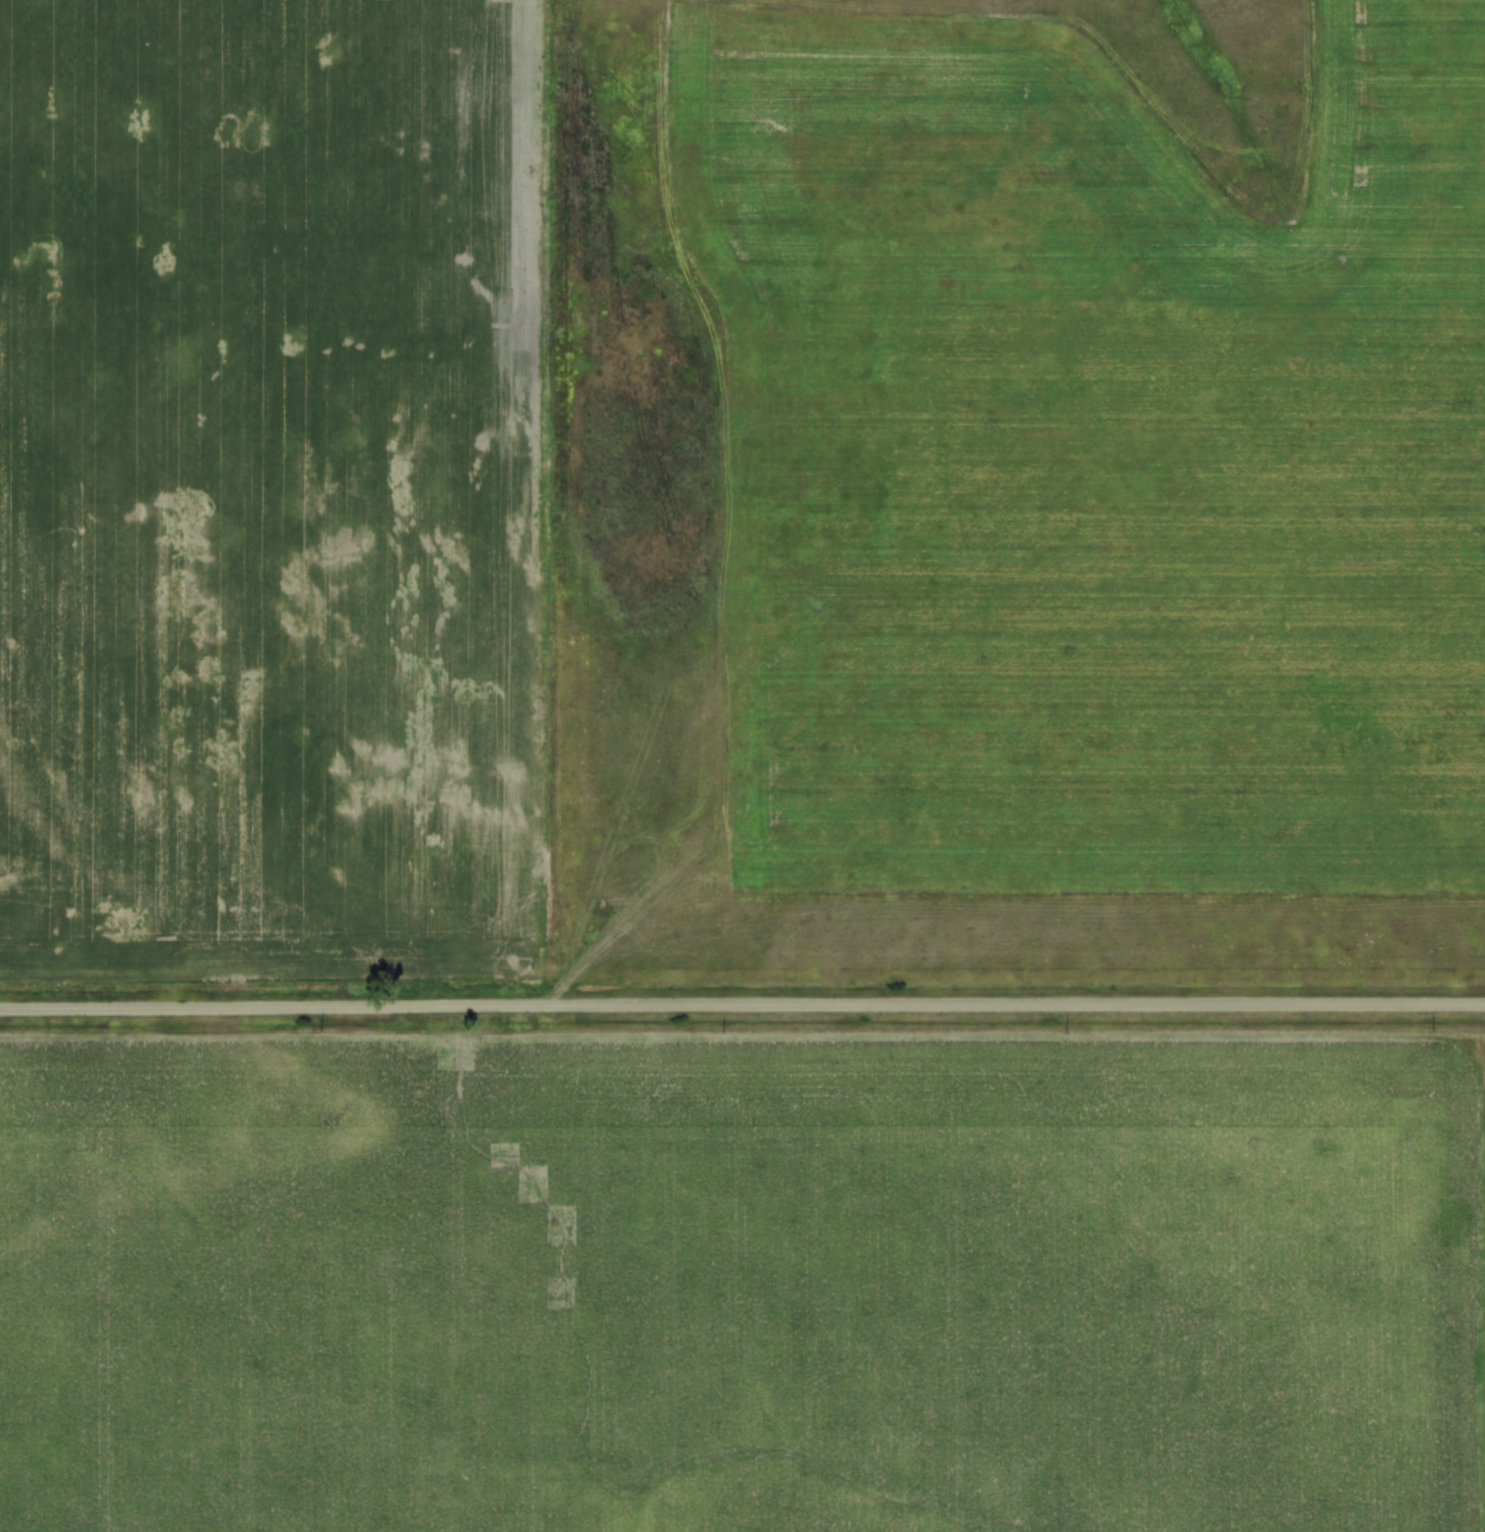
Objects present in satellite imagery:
road: (742, 1004)

